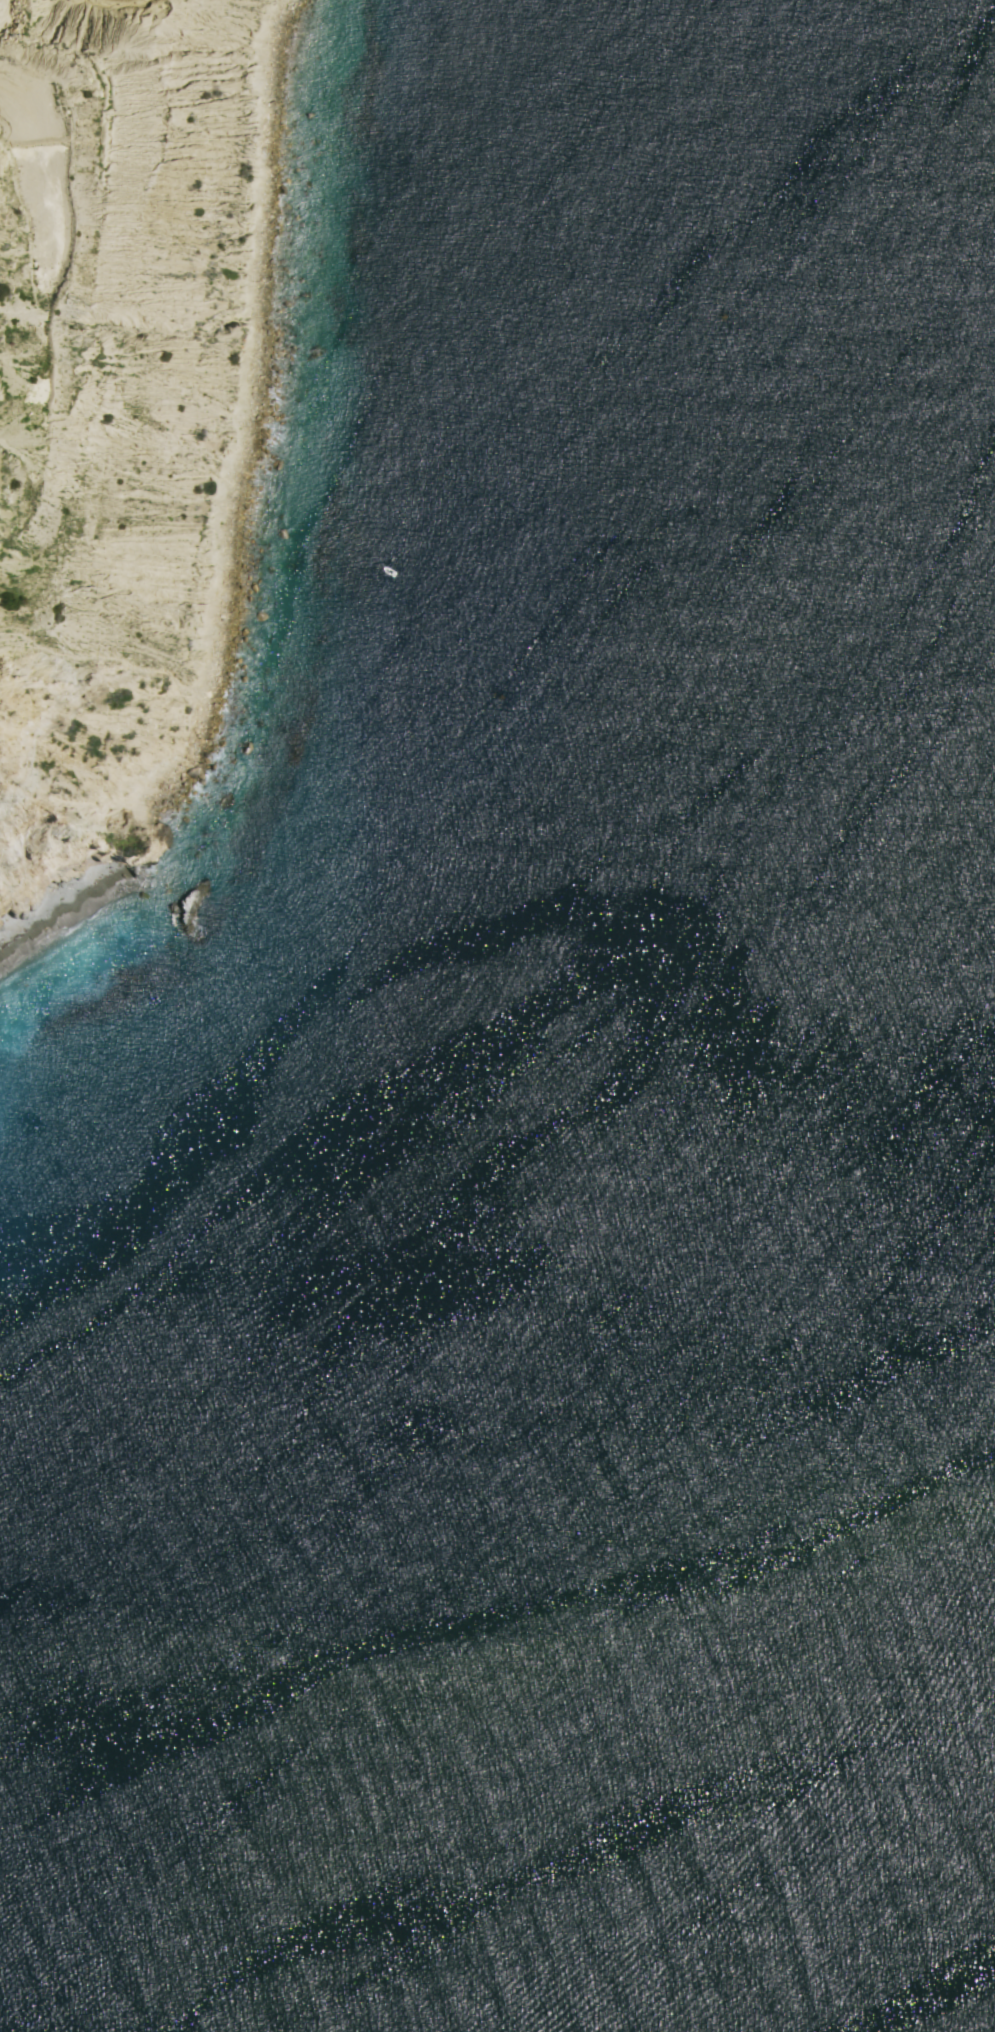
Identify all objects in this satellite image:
quarry: (137, 383)

